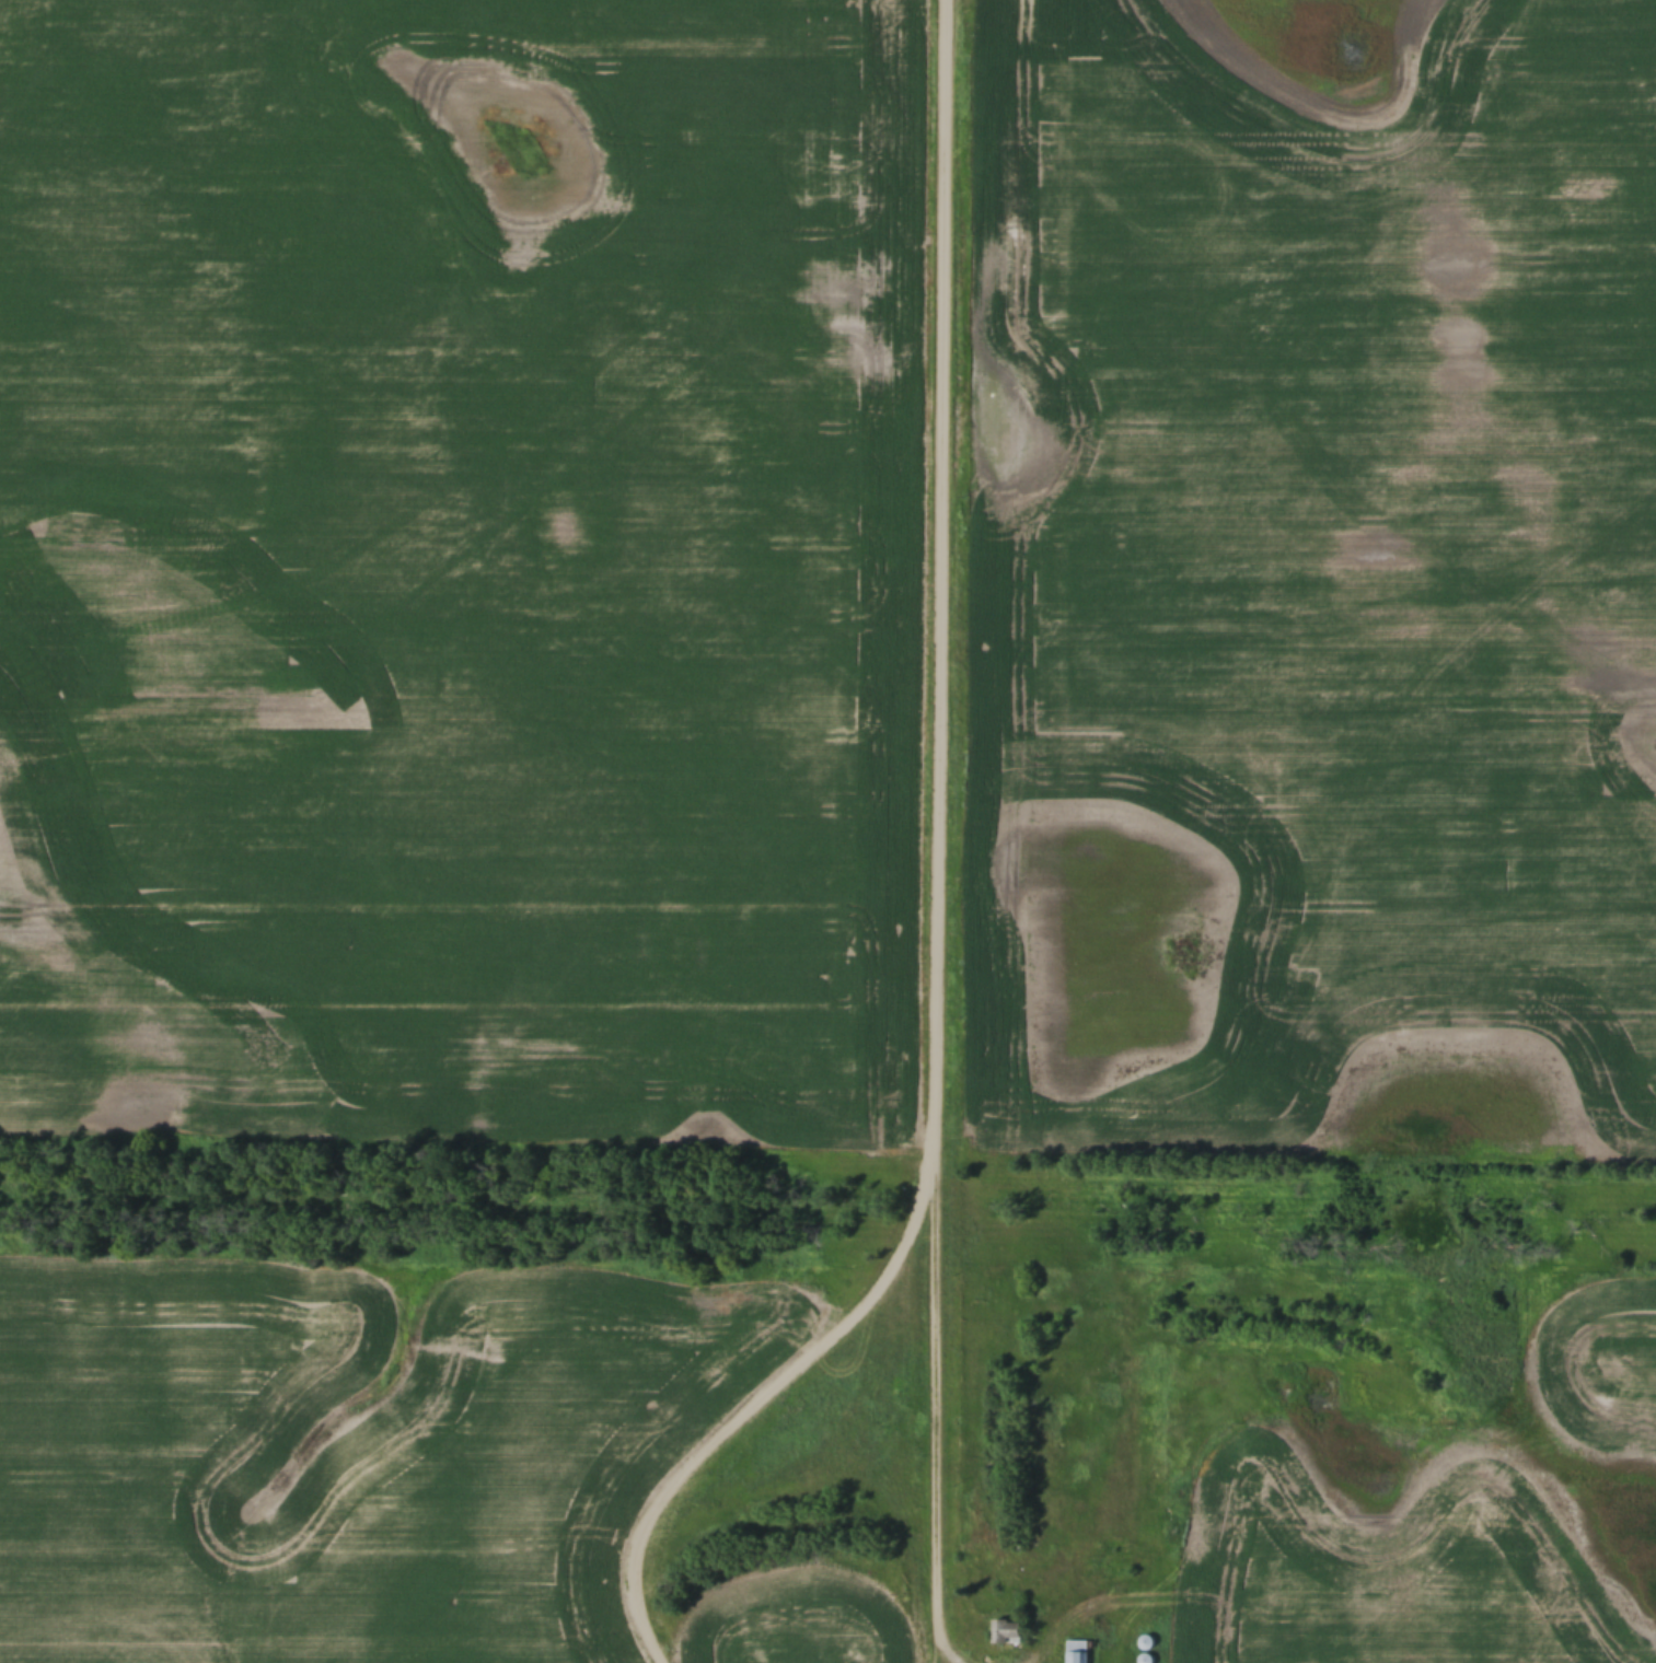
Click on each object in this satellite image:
road: (929, 731)
building: (1007, 1632)
building: (1076, 1651)

